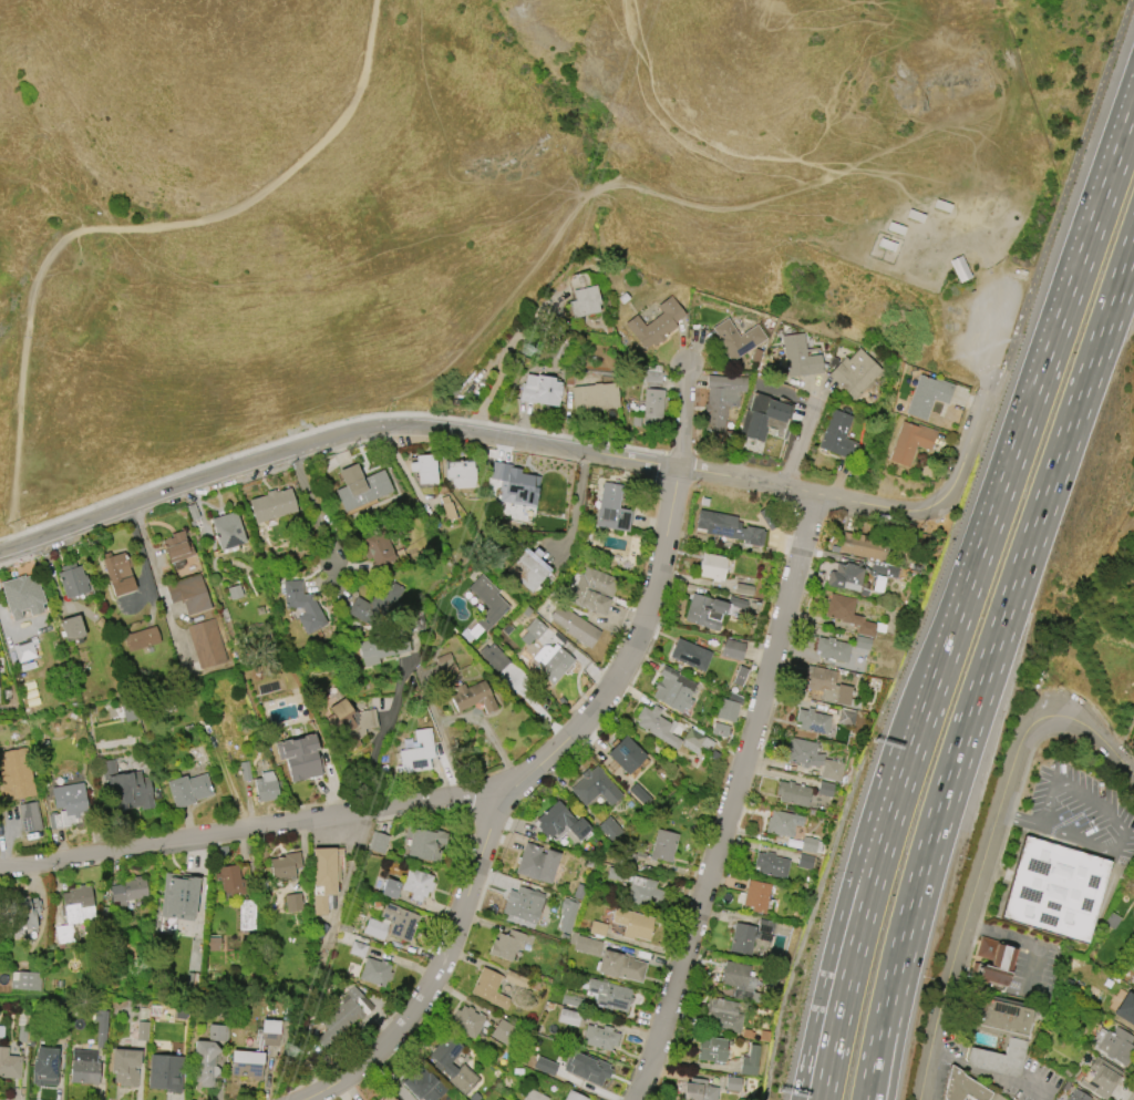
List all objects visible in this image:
road: (1062, 196)
road: (711, 222)
road: (125, 227)
building: (959, 268)
building: (584, 301)
building: (654, 323)
building: (736, 339)
power tower: (529, 354)
building: (755, 356)
building: (798, 357)
building: (855, 373)
building: (652, 377)
building: (539, 390)
building: (595, 395)
building: (926, 395)
building: (721, 399)
building: (652, 408)
building: (761, 415)
building: (775, 426)
road: (1023, 431)
building: (838, 435)
road: (672, 438)
road: (805, 438)
building: (909, 442)
road: (525, 446)
building: (423, 469)
building: (460, 473)
building: (513, 484)
building: (360, 487)
road: (311, 504)
building: (271, 505)
building: (447, 508)
building: (611, 508)
building: (728, 527)
building: (227, 530)
building: (864, 546)
building: (176, 547)
building: (379, 551)
building: (711, 566)
building: (526, 568)
building: (117, 573)
building: (882, 574)
building: (845, 576)
road: (161, 578)
building: (72, 580)
road: (1012, 583)
building: (743, 588)
building: (592, 590)
building: (234, 592)
building: (188, 593)
building: (22, 595)
building: (487, 602)
building: (375, 605)
building: (301, 606)
building: (709, 610)
building: (847, 613)
building: (574, 626)
building: (71, 628)
building: (533, 630)
building: (141, 638)
building: (205, 642)
building: (860, 642)
building: (382, 647)
building: (732, 649)
building: (832, 649)
building: (23, 651)
building: (690, 654)
building: (493, 657)
building: (550, 662)
building: (445, 664)
building: (738, 678)
building: (827, 686)
building: (673, 689)
building: (472, 697)
building: (726, 710)
building: (846, 718)
building: (812, 721)
building: (350, 722)
building: (657, 724)
building: (719, 729)
road: (383, 737)
road: (1101, 738)
building: (695, 740)
building: (416, 753)
building: (626, 754)
building: (299, 757)
building: (811, 758)
building: (245, 771)
building: (16, 773)
road: (904, 781)
building: (265, 787)
building: (594, 787)
building: (125, 788)
building: (187, 789)
building: (825, 789)
building: (792, 793)
building: (639, 794)
road: (726, 798)
road: (440, 803)
building: (66, 804)
road: (1111, 813)
building: (29, 816)
building: (560, 822)
road: (1018, 822)
building: (782, 823)
building: (609, 829)
building: (377, 842)
building: (423, 842)
building: (808, 844)
building: (662, 845)
building: (536, 863)
building: (771, 864)
building: (283, 865)
road: (346, 874)
building: (321, 876)
building: (1133, 878)
building: (230, 880)
building: (416, 883)
building: (390, 888)
building: (1053, 888)
building: (128, 891)
building: (579, 892)
building: (643, 892)
building: (755, 895)
road: (971, 895)
building: (178, 896)
building: (292, 902)
building: (76, 904)
building: (523, 904)
building: (24, 911)
building: (567, 914)
building: (246, 915)
building: (1111, 921)
building: (400, 922)
building: (632, 924)
building: (374, 928)
building: (597, 928)
building: (63, 935)
building: (750, 936)
road: (1025, 939)
building: (213, 944)
building: (507, 944)
building: (587, 945)
building: (357, 949)
road: (839, 955)
road: (854, 956)
building: (991, 962)
building: (620, 966)
building: (374, 972)
road: (437, 974)
building: (515, 979)
building: (24, 980)
building: (739, 980)
building: (488, 988)
building: (609, 996)
building: (573, 1000)
building: (349, 1008)
building: (723, 1015)
building: (1130, 1015)
building: (996, 1016)
building: (568, 1017)
road: (882, 1017)
road: (894, 1018)
building: (466, 1021)
building: (100, 1027)
building: (141, 1031)
building: (216, 1032)
building: (269, 1032)
building: (505, 1032)
building: (599, 1037)
building: (1113, 1045)
building: (711, 1049)
power tower: (293, 1055)
building: (998, 1058)
building: (750, 1060)
building: (204, 1061)
building: (246, 1063)
building: (9, 1065)
building: (443, 1066)
building: (544, 1066)
building: (44, 1067)
building: (83, 1067)
building: (125, 1067)
building: (586, 1067)
building: (165, 1072)
road: (990, 1072)
building: (1100, 1078)
building: (732, 1083)
building: (421, 1084)
building: (962, 1087)
building: (698, 1090)
building: (533, 1096)
building: (574, 1096)
building: (1078, 1096)
building: (385, 1097)
building: (996, 1097)

